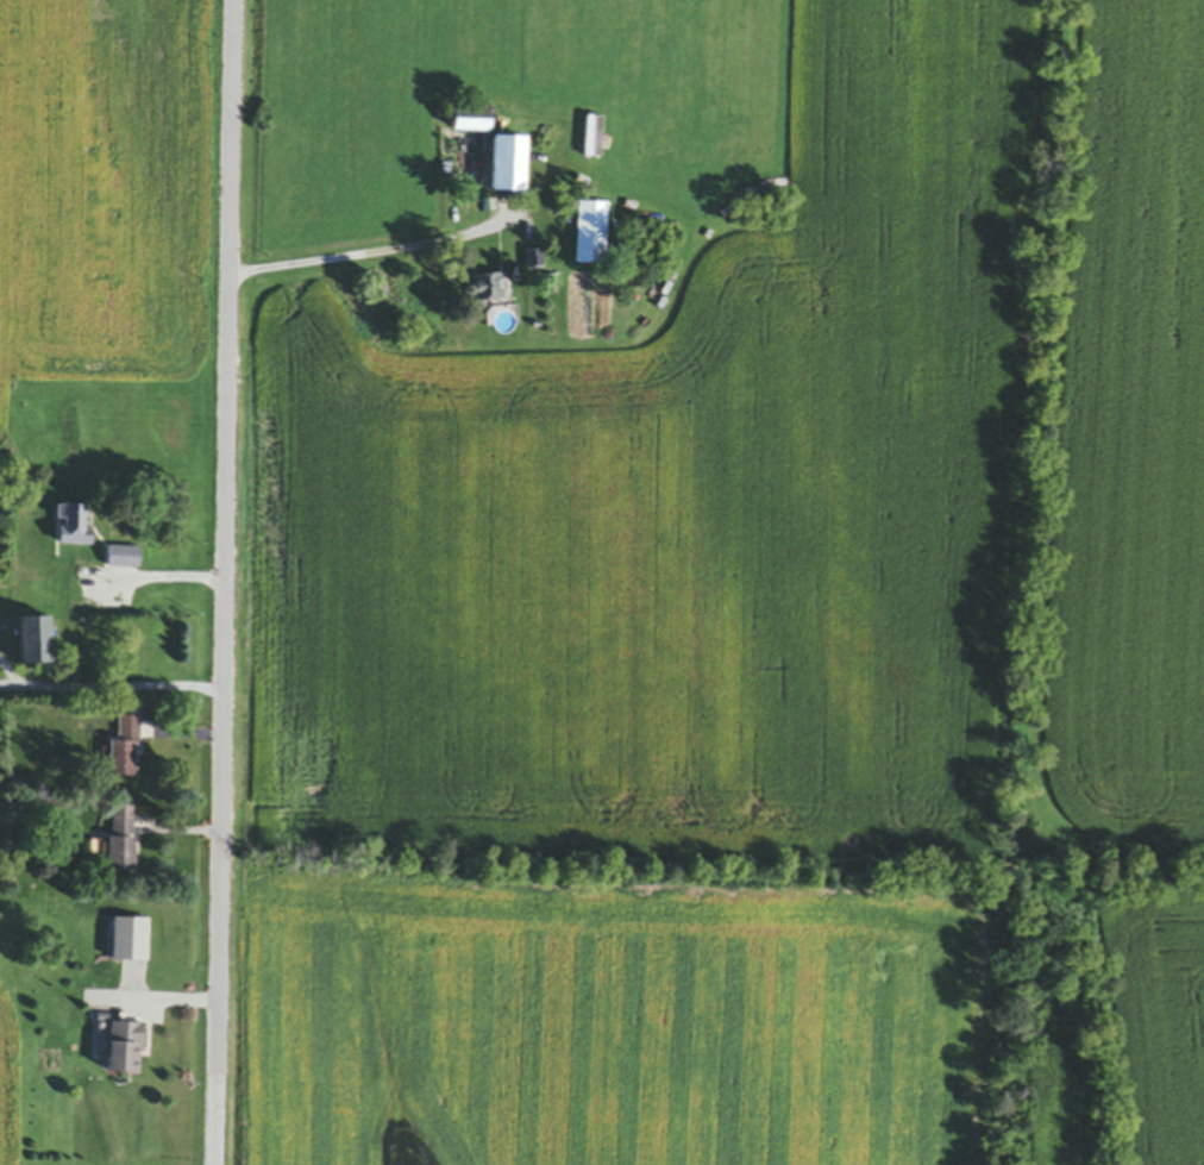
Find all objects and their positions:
building: (471, 124)
building: (508, 167)
building: (591, 236)
road: (377, 256)
building: (485, 288)
building: (74, 527)
road: (163, 581)
road: (228, 582)
building: (36, 644)
road: (8, 675)
road: (5, 689)
road: (118, 690)
building: (125, 751)
building: (121, 841)
building: (125, 1051)

